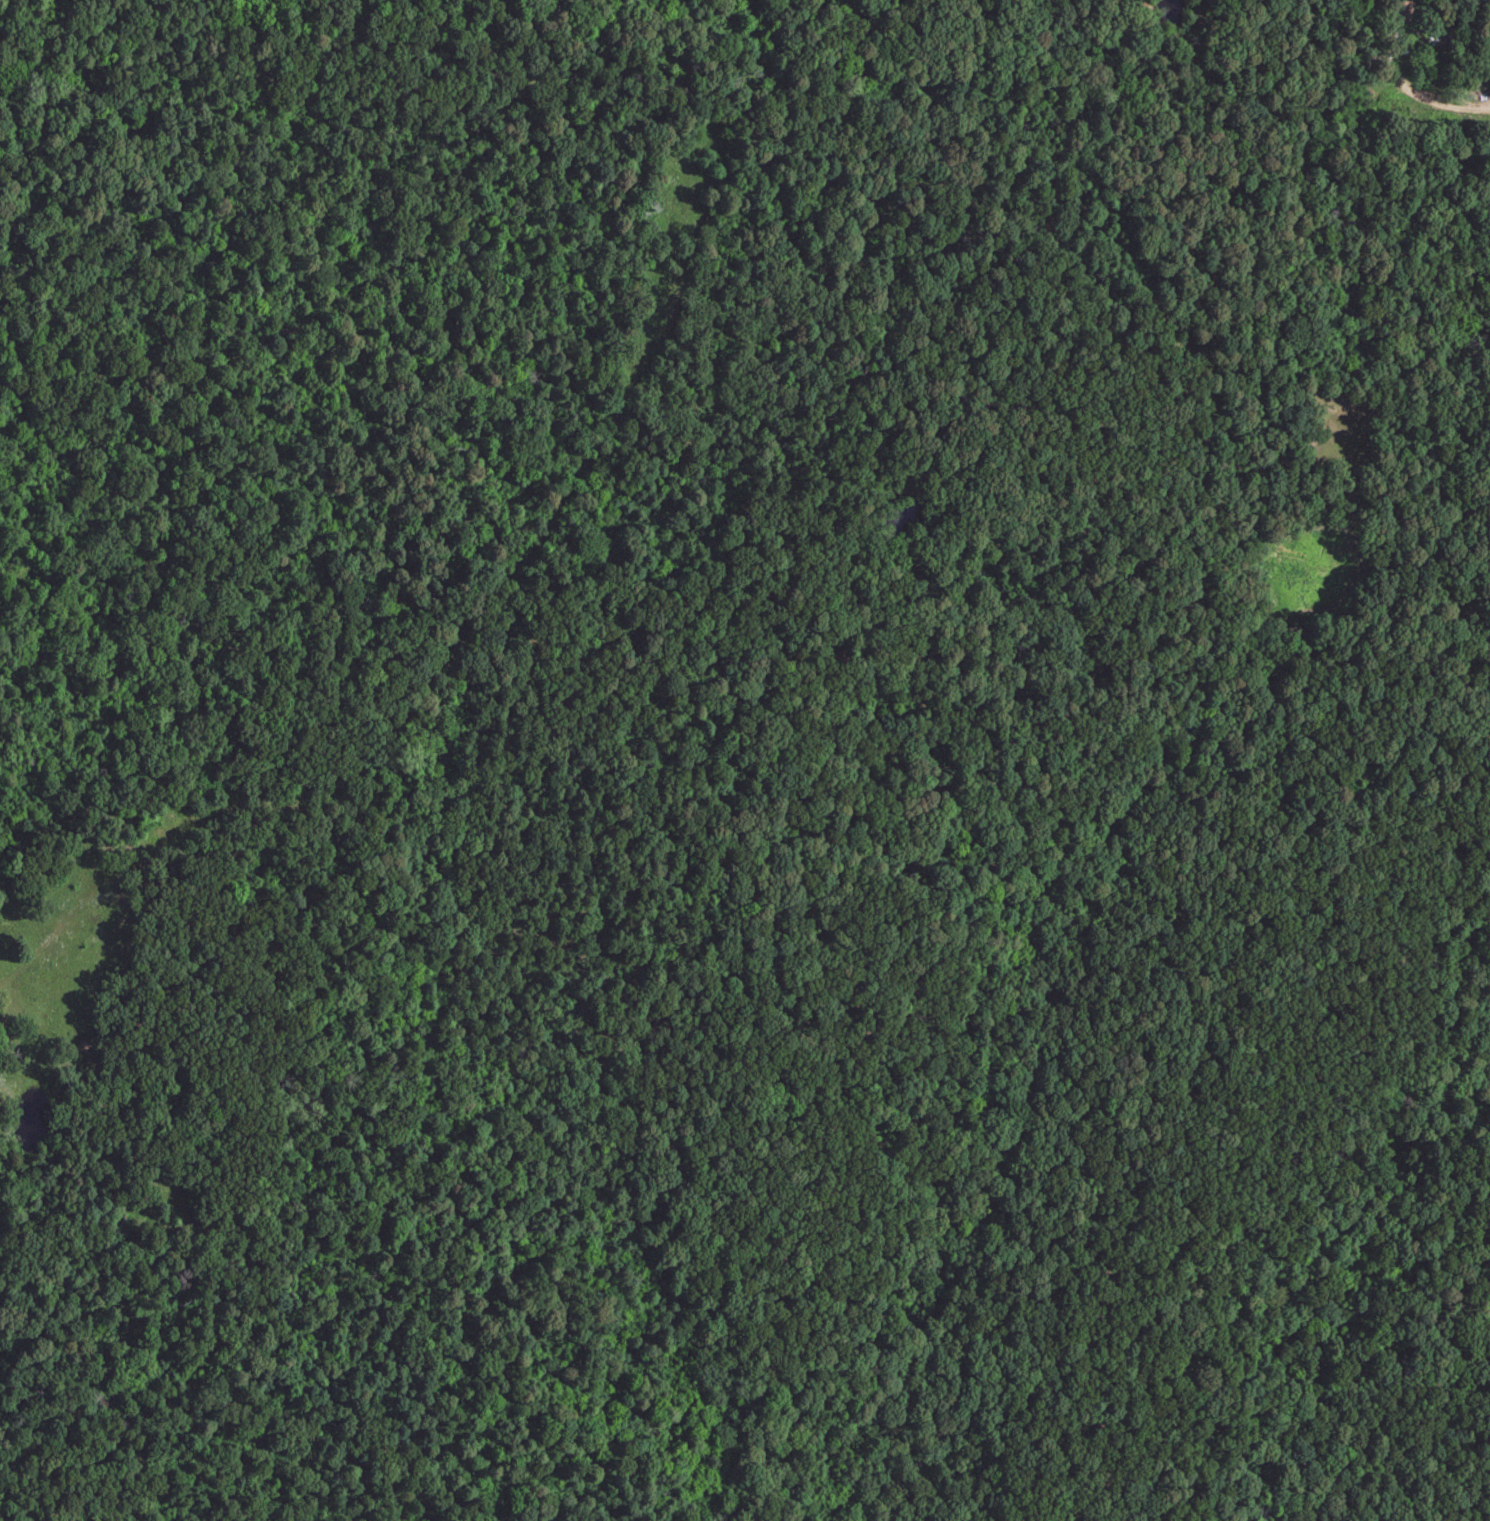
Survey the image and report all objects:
road: (1397, 45)
road: (1439, 96)

